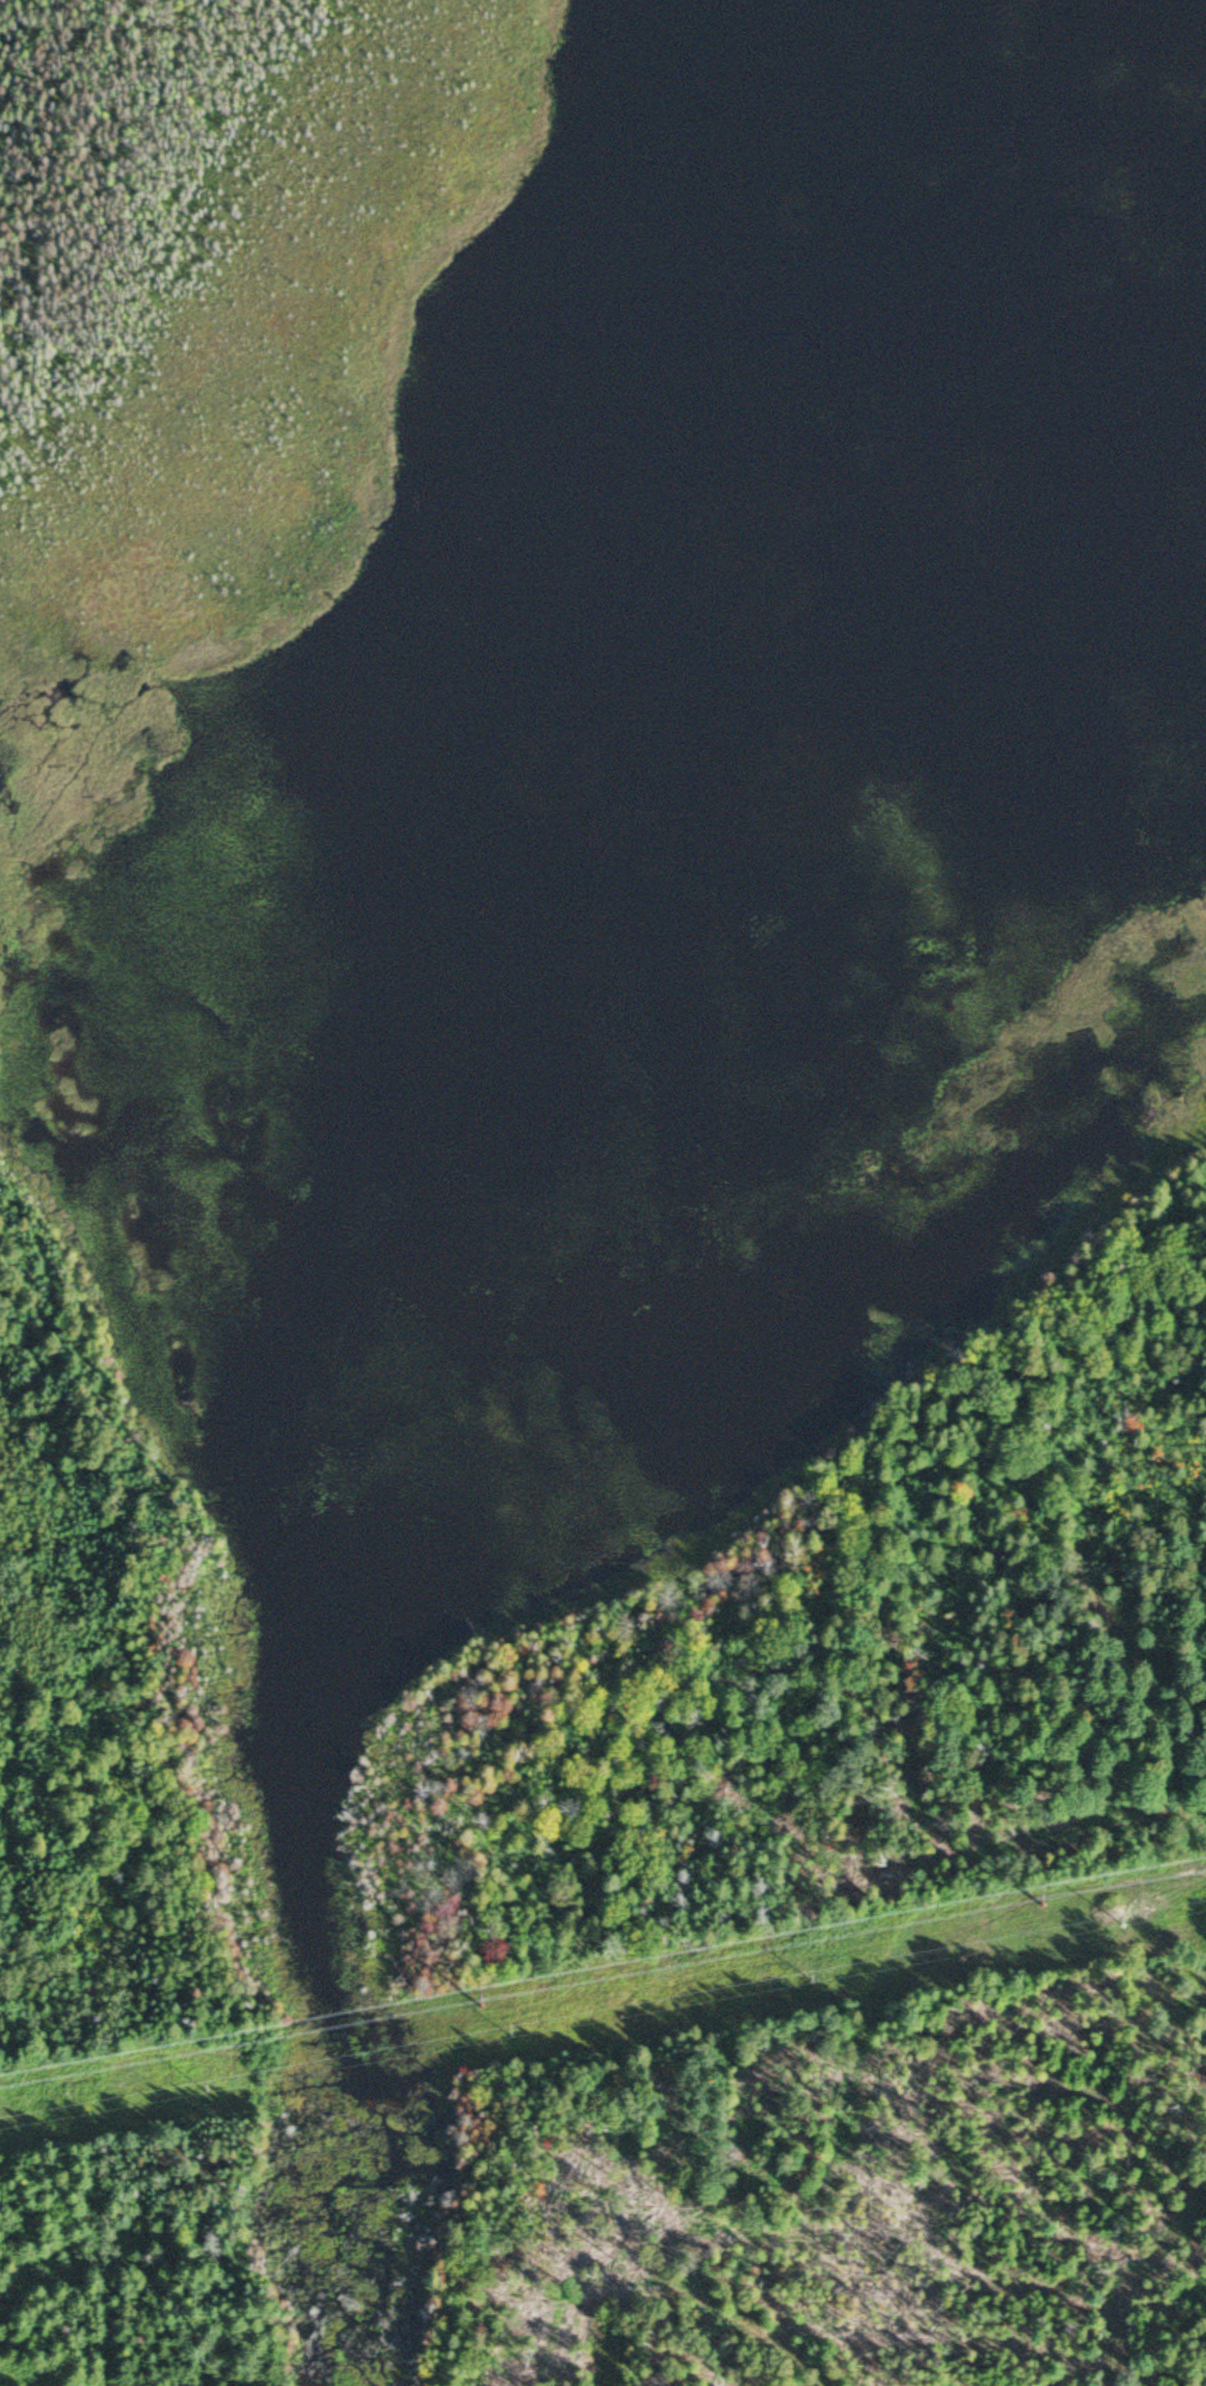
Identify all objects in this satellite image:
power tower: (1039, 1901)
power tower: (476, 2005)

